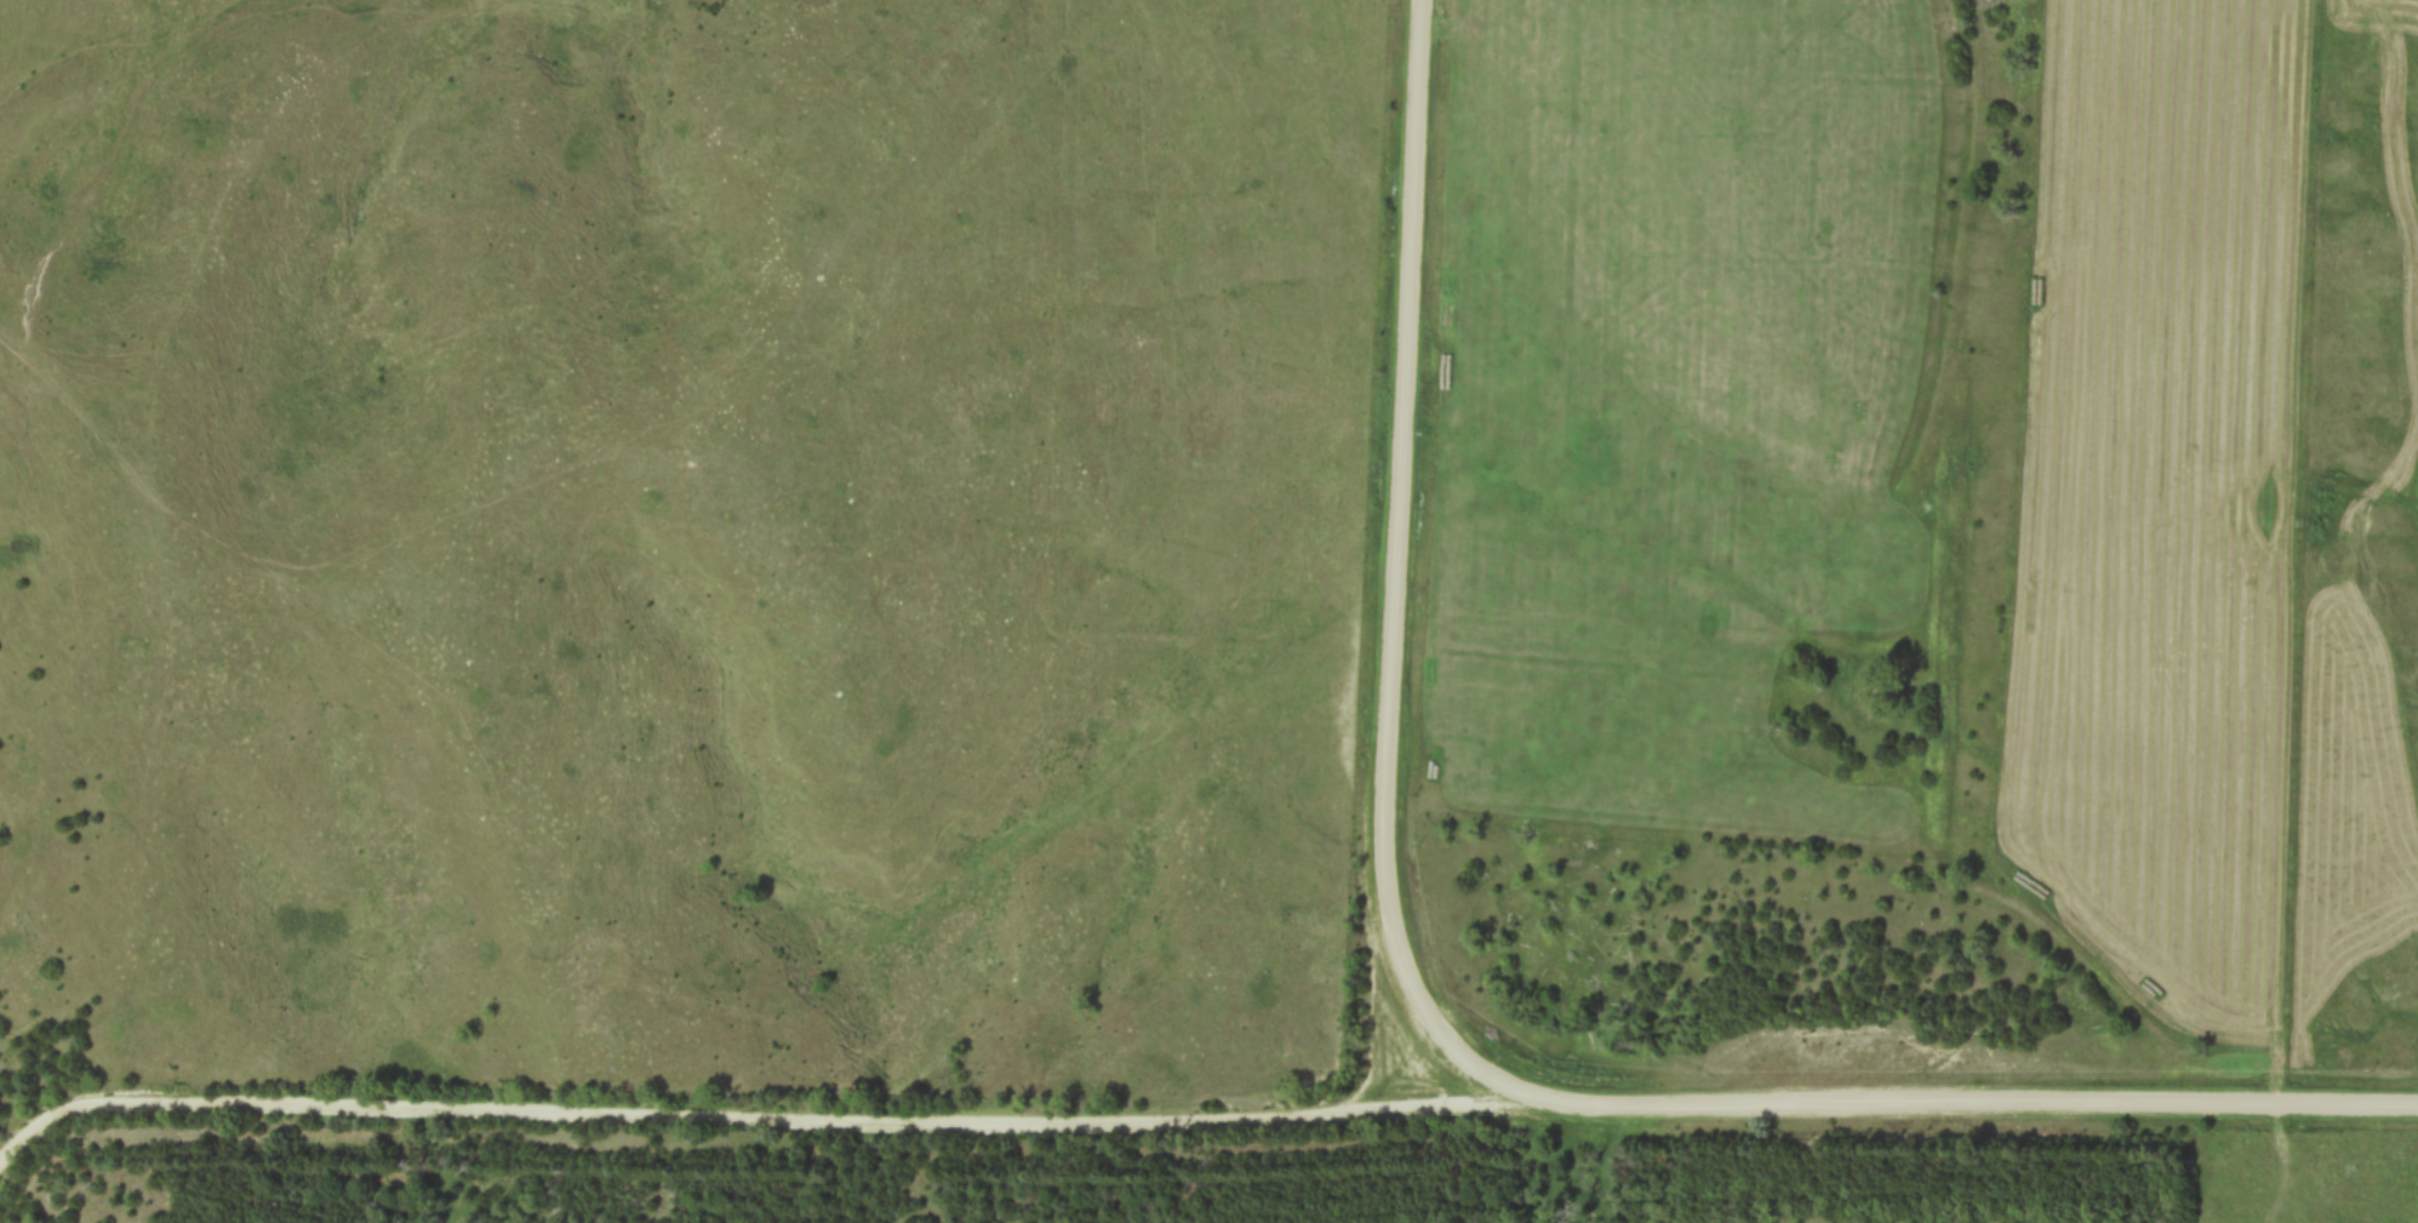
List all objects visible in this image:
road: (1399, 519)
road: (1914, 1099)
road: (772, 1119)
road: (34, 1124)

